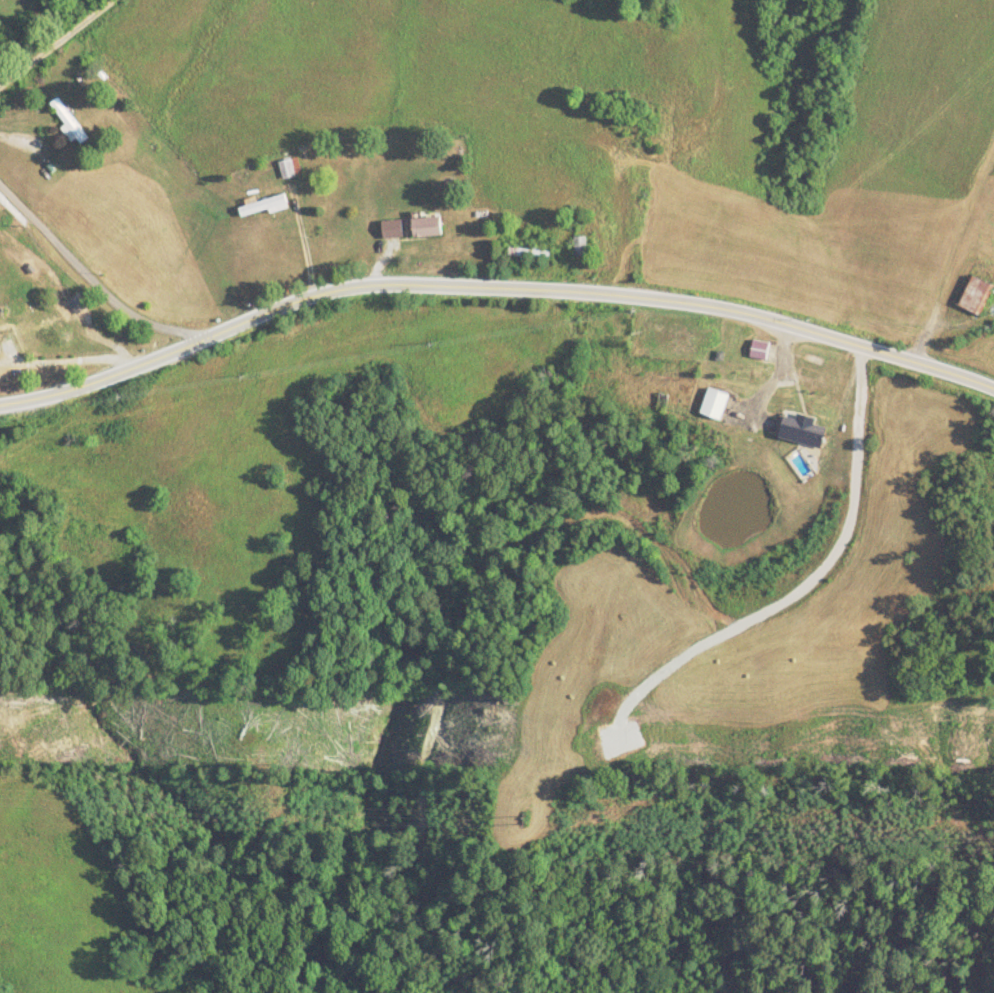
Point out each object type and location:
building: (67, 122)
building: (425, 228)
building: (579, 247)
building: (527, 253)
road: (493, 286)
building: (975, 288)
road: (97, 293)
building: (759, 349)
building: (713, 403)
building: (801, 430)

